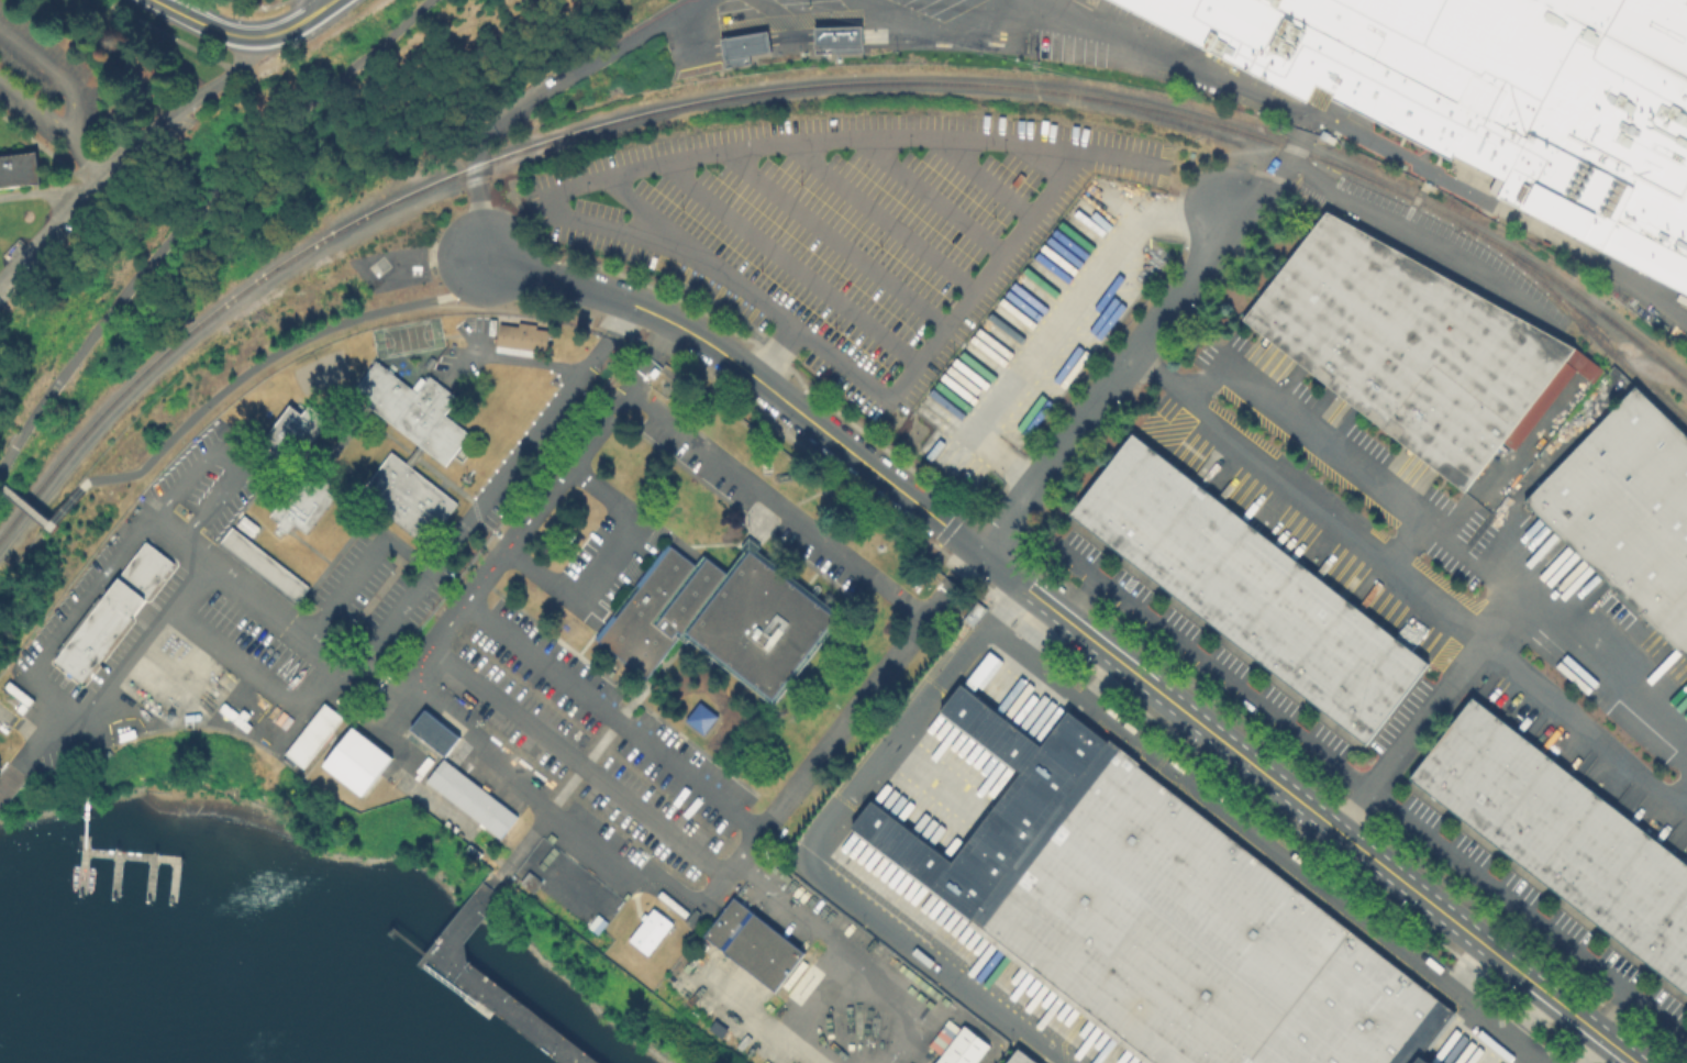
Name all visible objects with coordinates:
road: (175, 4)
road: (199, 21)
road: (290, 24)
building: (836, 38)
building: (742, 46)
road: (597, 59)
road: (238, 63)
railway: (808, 84)
building: (1497, 96)
road: (73, 103)
road: (1308, 124)
road: (894, 137)
road: (1370, 143)
road: (47, 148)
road: (82, 154)
park: (321, 165)
building: (21, 166)
road: (989, 175)
road: (102, 177)
road: (1274, 177)
road: (476, 190)
road: (43, 191)
road: (931, 192)
road: (191, 213)
road: (885, 213)
road: (836, 235)
road: (790, 261)
road: (525, 270)
building: (1680, 298)
railway: (1578, 318)
road: (1056, 324)
road: (207, 325)
park: (406, 335)
road: (450, 335)
building: (520, 339)
road: (443, 341)
road: (479, 346)
building: (1407, 346)
road: (420, 347)
parking lot: (464, 352)
road: (277, 353)
road: (378, 356)
road: (511, 357)
road: (374, 358)
building: (428, 362)
park: (319, 369)
road: (1108, 380)
road: (347, 385)
road: (781, 398)
road: (369, 406)
building: (413, 408)
building: (291, 434)
road: (386, 435)
road: (1327, 444)
road: (422, 447)
road: (226, 455)
road: (688, 470)
road: (444, 478)
flagpole: (465, 478)
road: (459, 479)
road: (442, 483)
parking lot: (206, 484)
road: (458, 485)
road: (809, 495)
building: (408, 496)
road: (1301, 497)
building: (303, 500)
road: (543, 501)
parking lot: (752, 501)
road: (777, 502)
building: (1629, 511)
road: (24, 518)
road: (476, 518)
building: (246, 524)
road: (357, 525)
road: (750, 539)
road: (702, 543)
road: (309, 545)
road: (604, 561)
road: (1076, 561)
parking lot: (608, 562)
building: (263, 564)
road: (363, 564)
road: (811, 565)
building: (145, 569)
road: (809, 577)
parking lot: (81, 586)
building: (1248, 588)
road: (89, 596)
building: (123, 597)
parking lot: (369, 602)
road: (1002, 604)
building: (721, 617)
road: (1039, 625)
road: (1481, 636)
building: (90, 638)
parking lot: (266, 640)
road: (585, 642)
parking lot: (111, 647)
road: (1032, 663)
road: (348, 668)
road: (257, 673)
road: (1096, 678)
road: (620, 686)
building: (19, 697)
road: (614, 715)
building: (234, 716)
building: (699, 716)
building: (190, 717)
road: (204, 723)
road: (612, 724)
building: (3, 726)
storage tank: (3, 726)
road: (37, 727)
road: (839, 728)
road: (900, 729)
building: (433, 732)
building: (126, 734)
road: (1409, 734)
building: (311, 735)
road: (99, 748)
parking lot: (589, 749)
building: (71, 752)
building: (108, 753)
building: (356, 762)
road: (578, 763)
building: (422, 764)
pier: (8, 782)
road: (1359, 784)
building: (469, 797)
road: (87, 800)
road: (1684, 800)
road: (1307, 807)
road: (543, 808)
building: (1563, 837)
road: (518, 849)
pier: (148, 855)
pier: (81, 863)
pier: (114, 873)
pier: (148, 876)
road: (1307, 883)
road: (633, 895)
building: (672, 905)
building: (1159, 913)
building: (691, 916)
building: (596, 923)
pier: (390, 931)
building: (648, 931)
road: (411, 942)
building: (753, 943)
road: (921, 954)
road: (1462, 964)
building: (793, 974)
parking lot: (811, 981)
road: (448, 983)
pier: (495, 990)
pier: (475, 1004)
road: (1650, 1005)
road: (1533, 1020)
building: (942, 1036)
building: (962, 1048)
road: (1596, 1050)
building: (1019, 1059)

